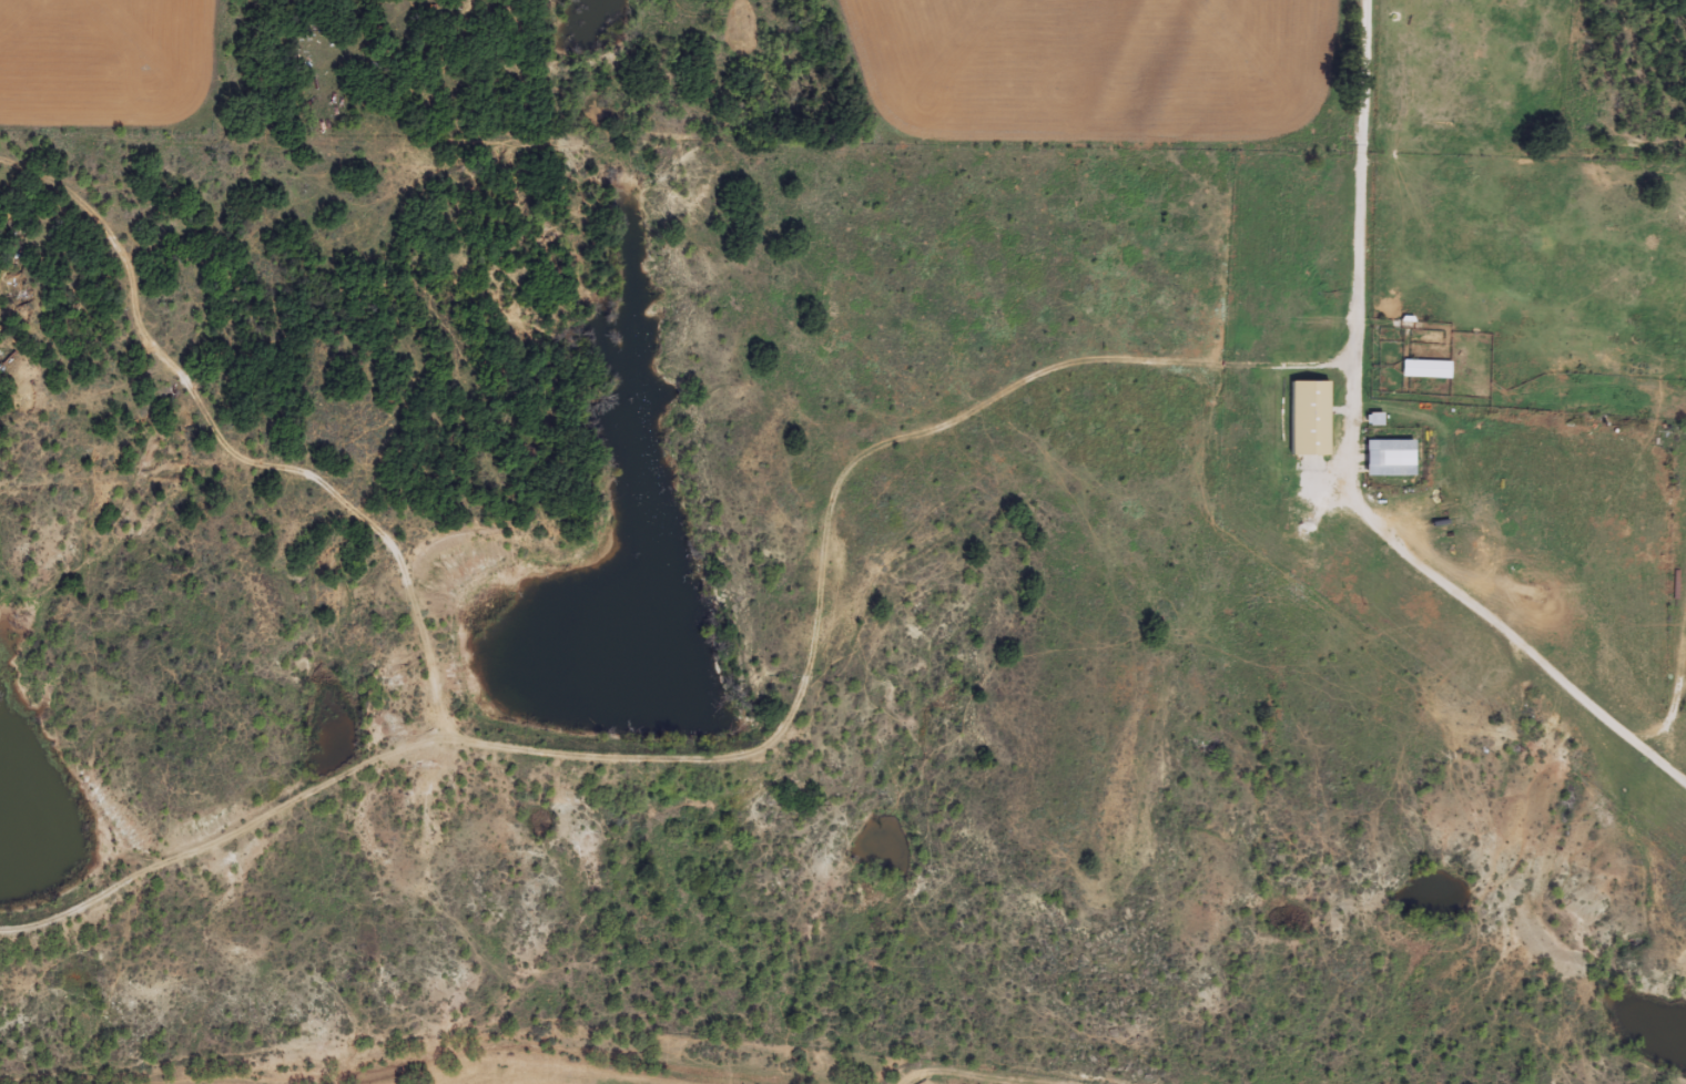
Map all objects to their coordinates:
building: (1428, 369)
road: (140, 419)
building: (1311, 419)
building: (1392, 458)
road: (1361, 533)
road: (732, 865)

